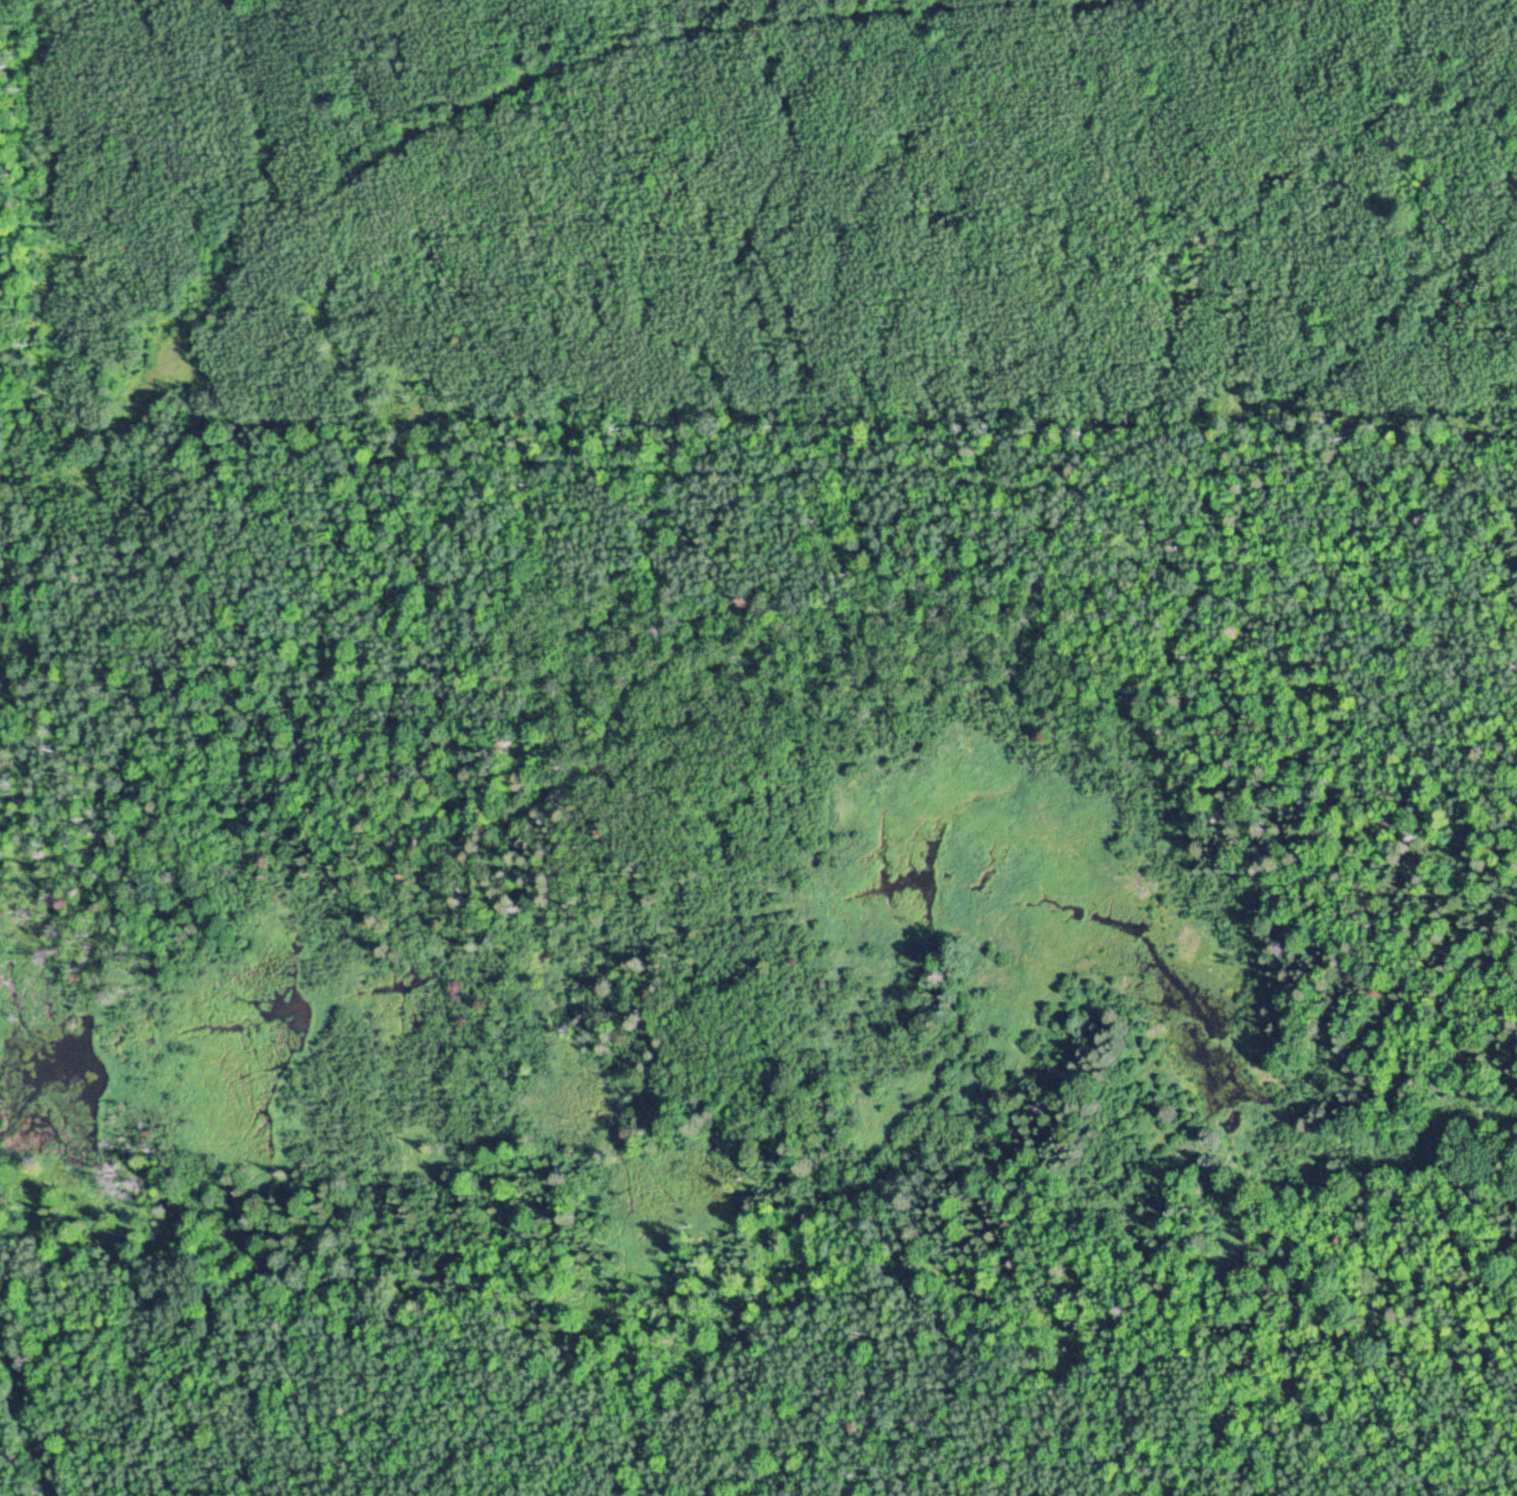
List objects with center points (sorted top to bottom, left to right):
road: (322, 196)
road: (30, 1388)

